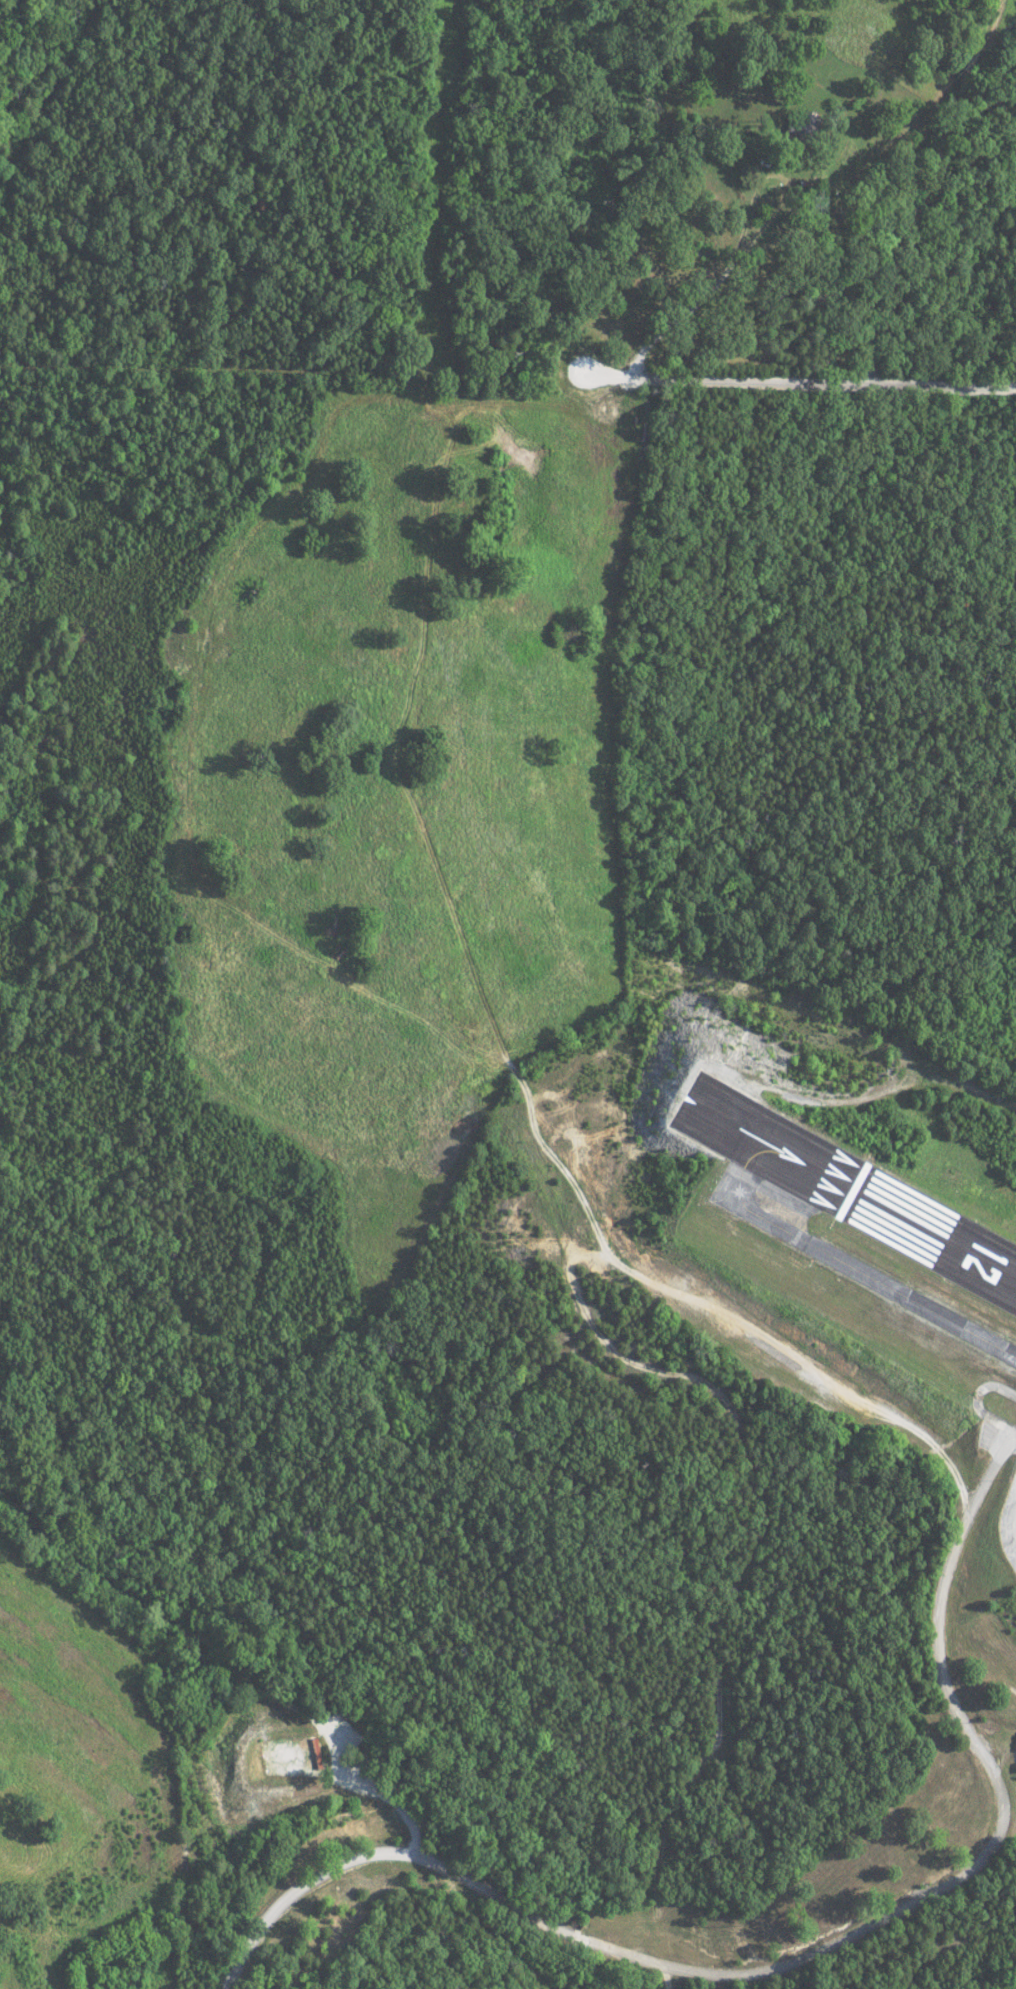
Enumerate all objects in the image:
road: (636, 183)
road: (746, 245)
road: (706, 384)
airport runway: (670, 1114)
airport taxiway: (860, 1273)
airport: (743, 1396)
airport apron: (1008, 1525)
road: (338, 1867)
road: (961, 1878)
road: (504, 1897)

